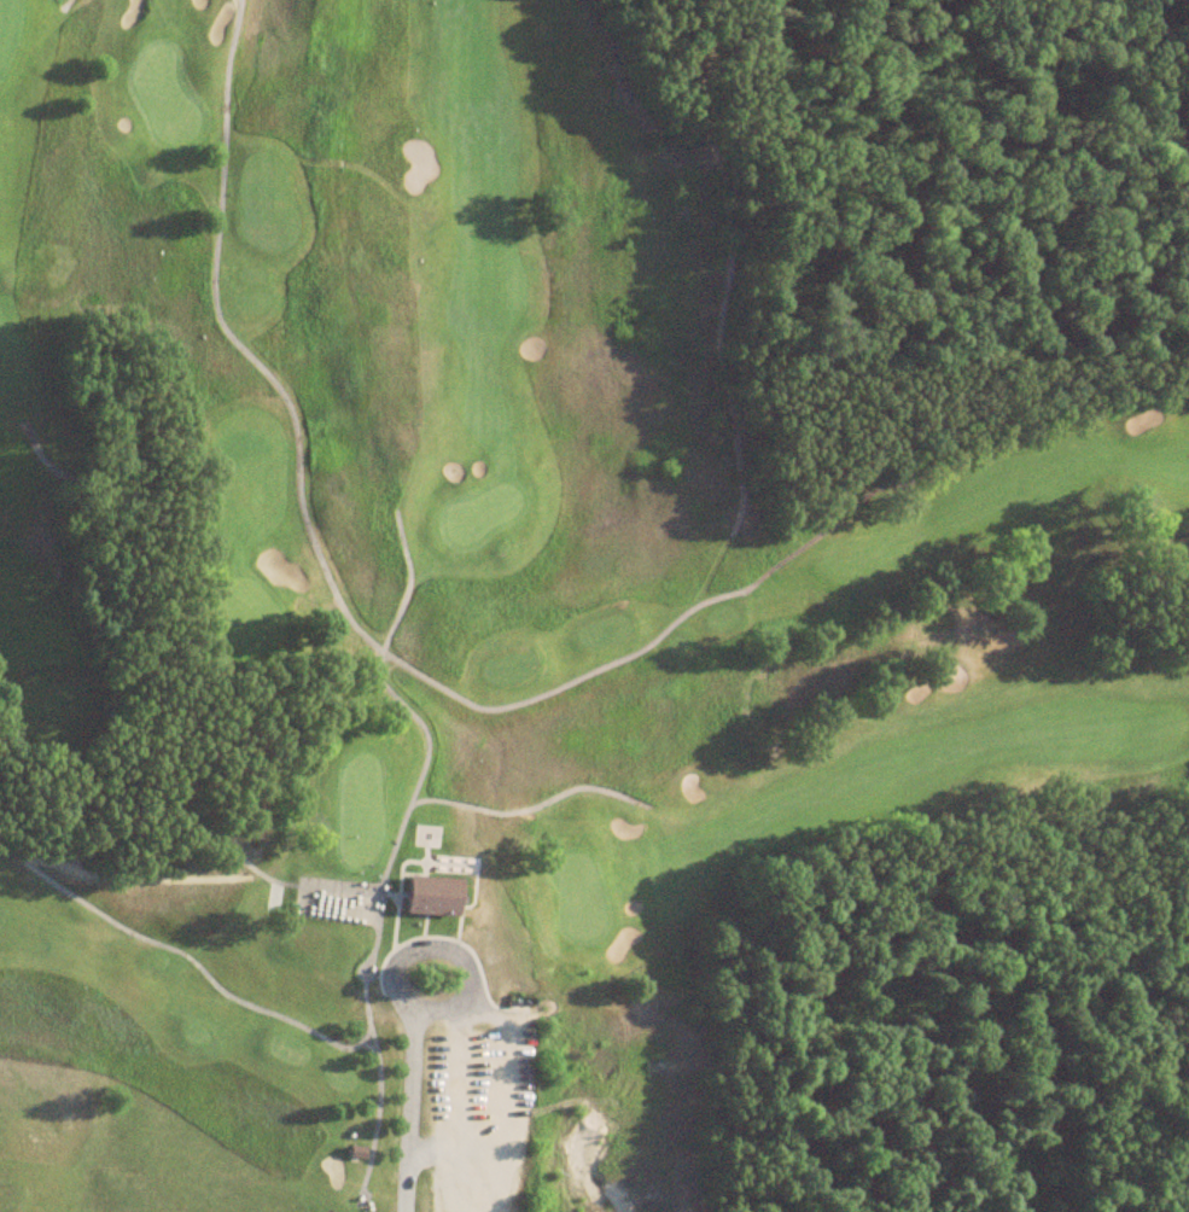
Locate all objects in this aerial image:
park: (460, 619)
building: (429, 897)
road: (447, 952)
road: (407, 1123)
parking lot: (483, 1129)
building: (354, 1154)

